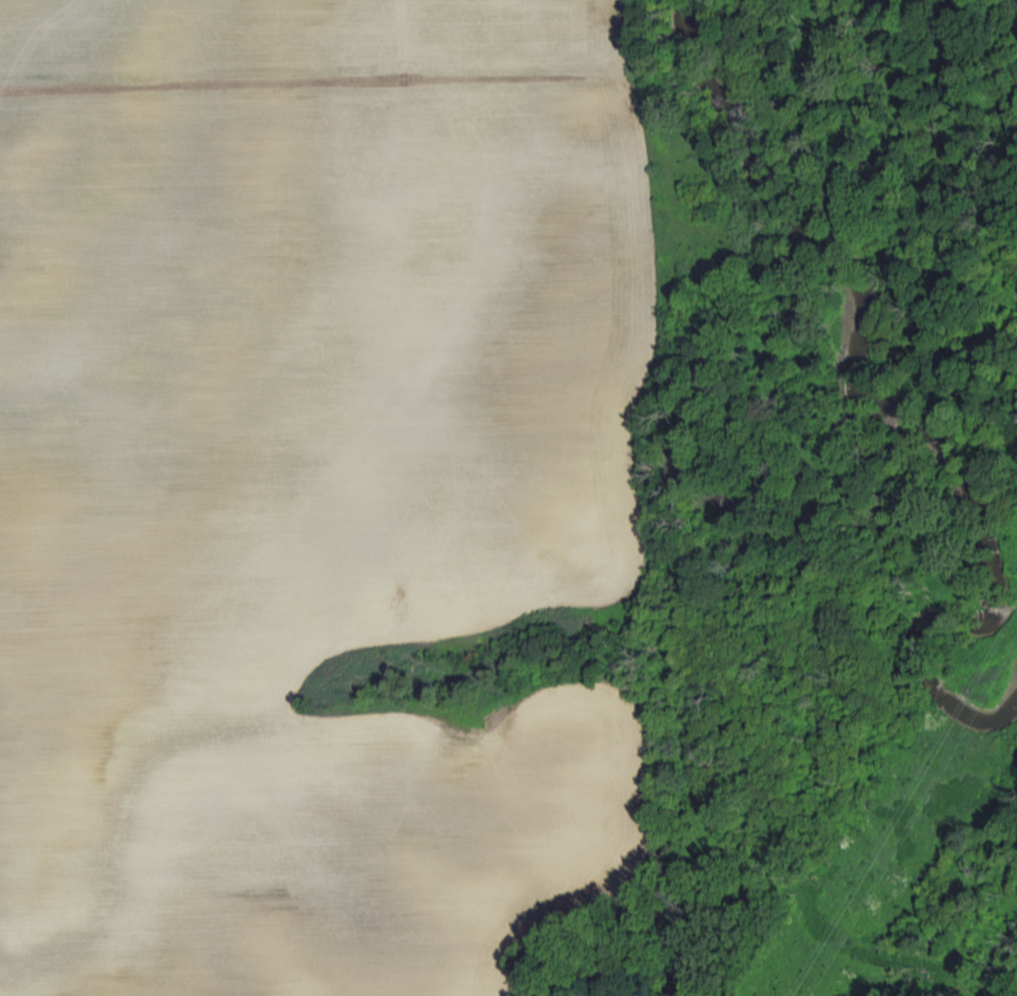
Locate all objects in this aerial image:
river: (883, 408)
crop: (309, 485)

